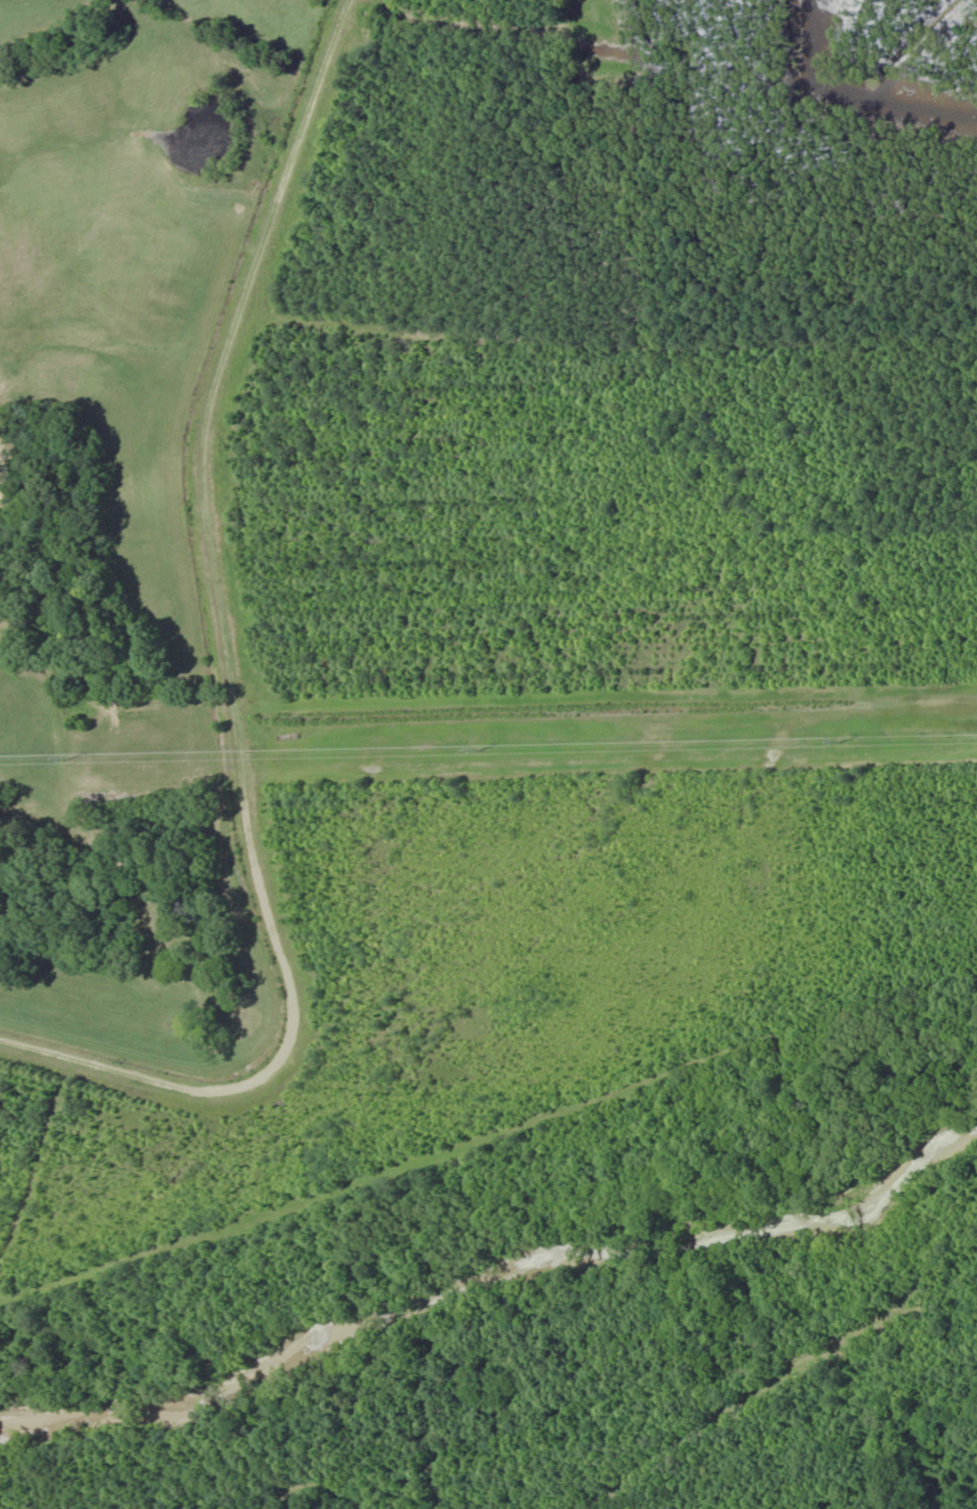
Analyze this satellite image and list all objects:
road: (237, 653)
power tower: (845, 739)
power tower: (487, 747)
power tower: (81, 756)

